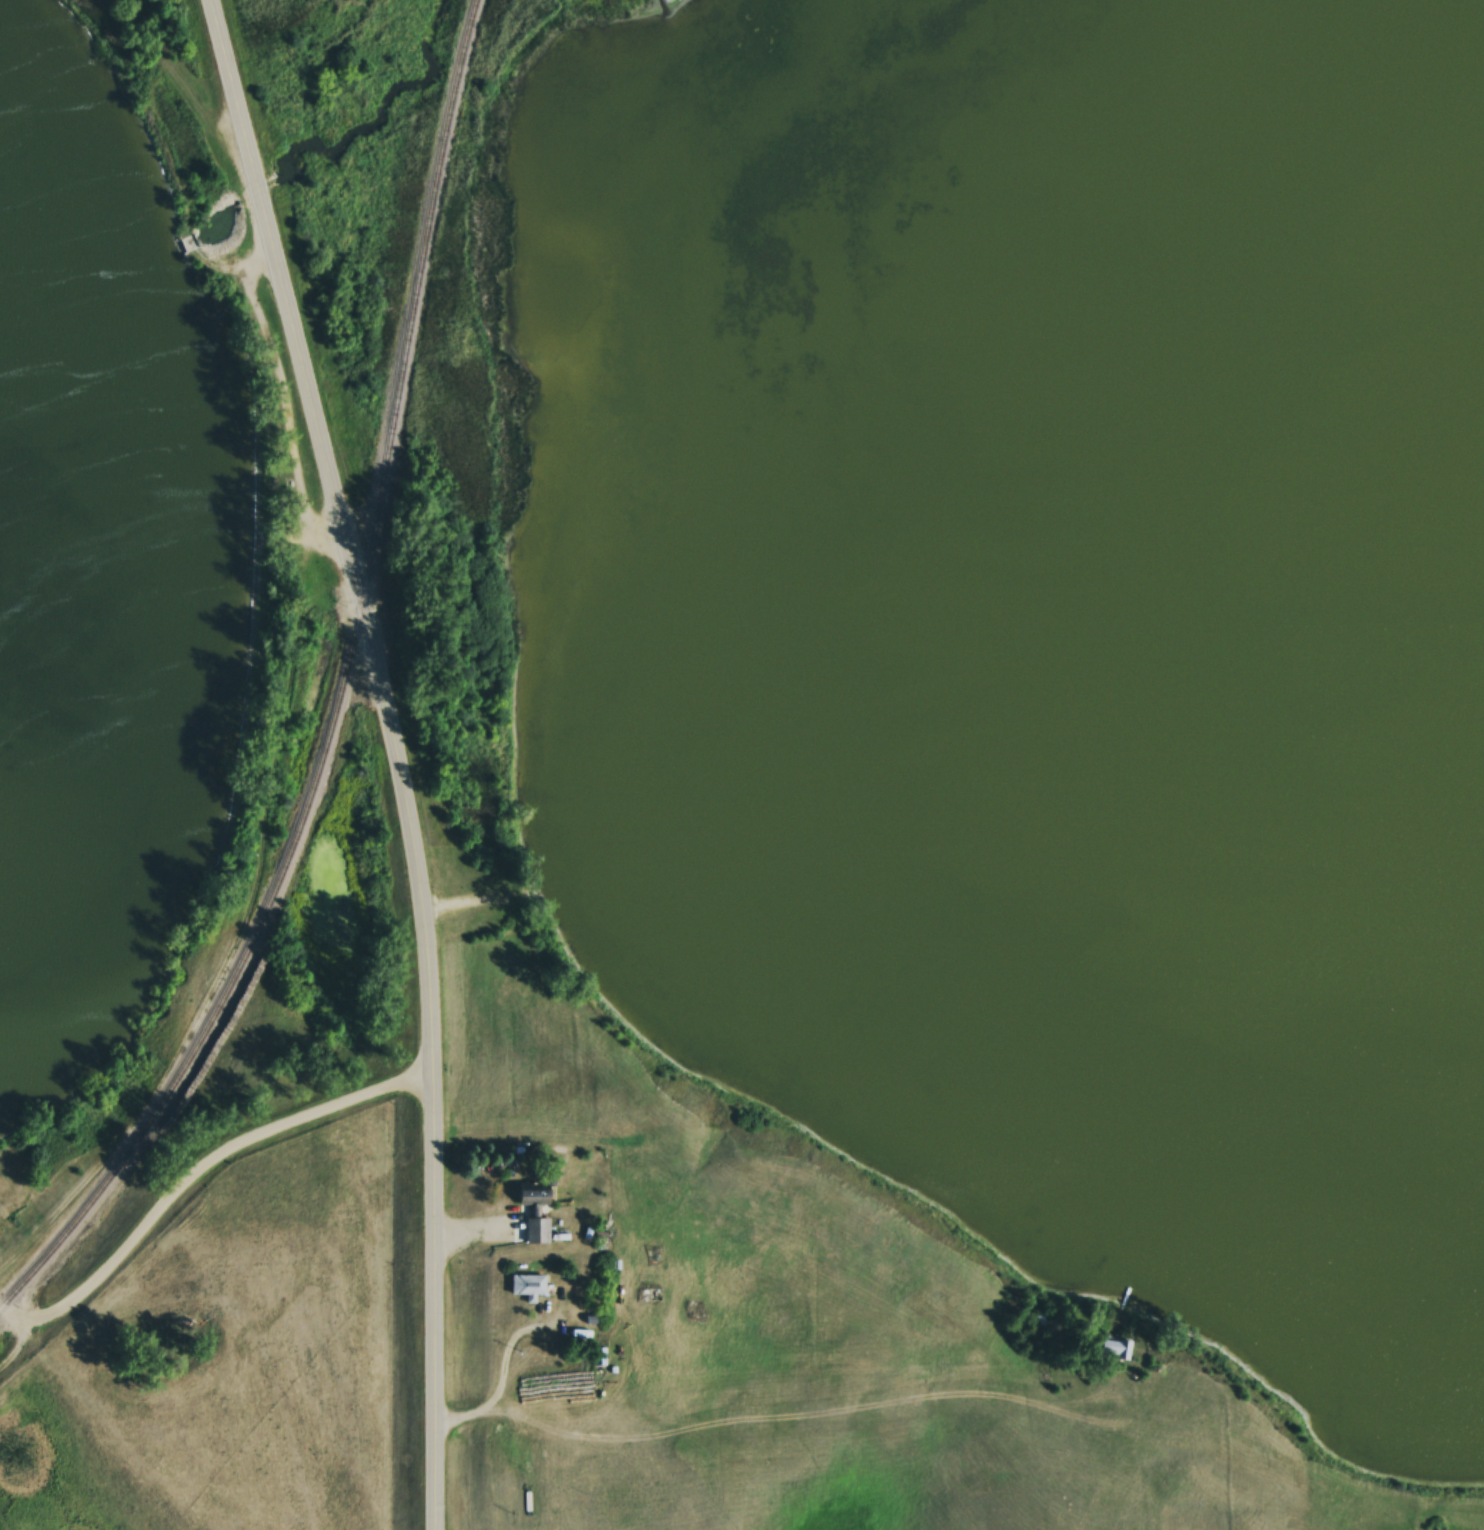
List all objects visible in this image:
river: (558, 4)
river: (1473, 39)
river: (350, 186)
river: (952, 239)
river: (113, 344)
railway: (336, 692)
road: (393, 755)
road: (335, 1109)
building: (531, 1214)
road: (141, 1242)
building: (526, 1286)
road: (22, 1323)
building: (1109, 1350)
building: (596, 1357)
road: (22, 1364)

